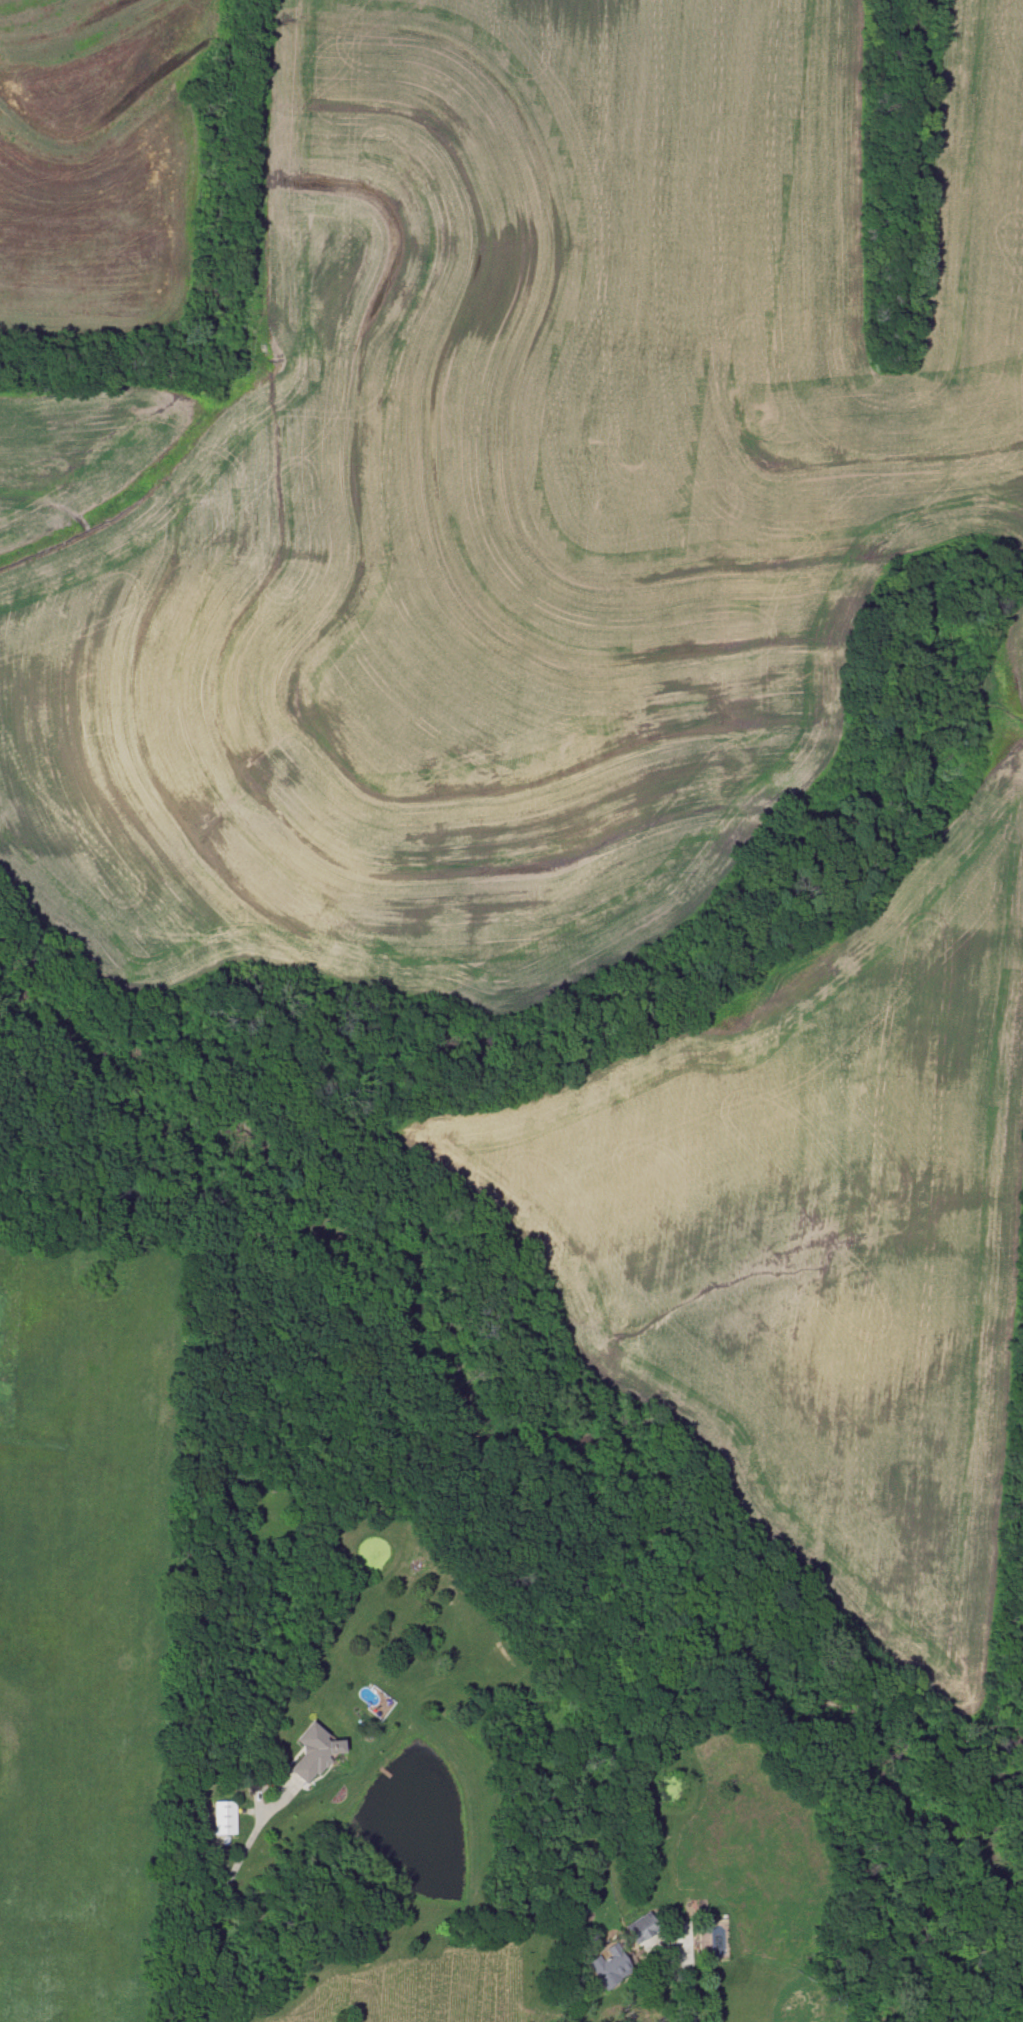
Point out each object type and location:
crop: (101, 161)
crop: (501, 498)
crop: (808, 1229)
building: (314, 1751)
road: (268, 1782)
building: (224, 1817)
road: (214, 1917)
building: (641, 1927)
building: (609, 1965)
road: (689, 1977)

